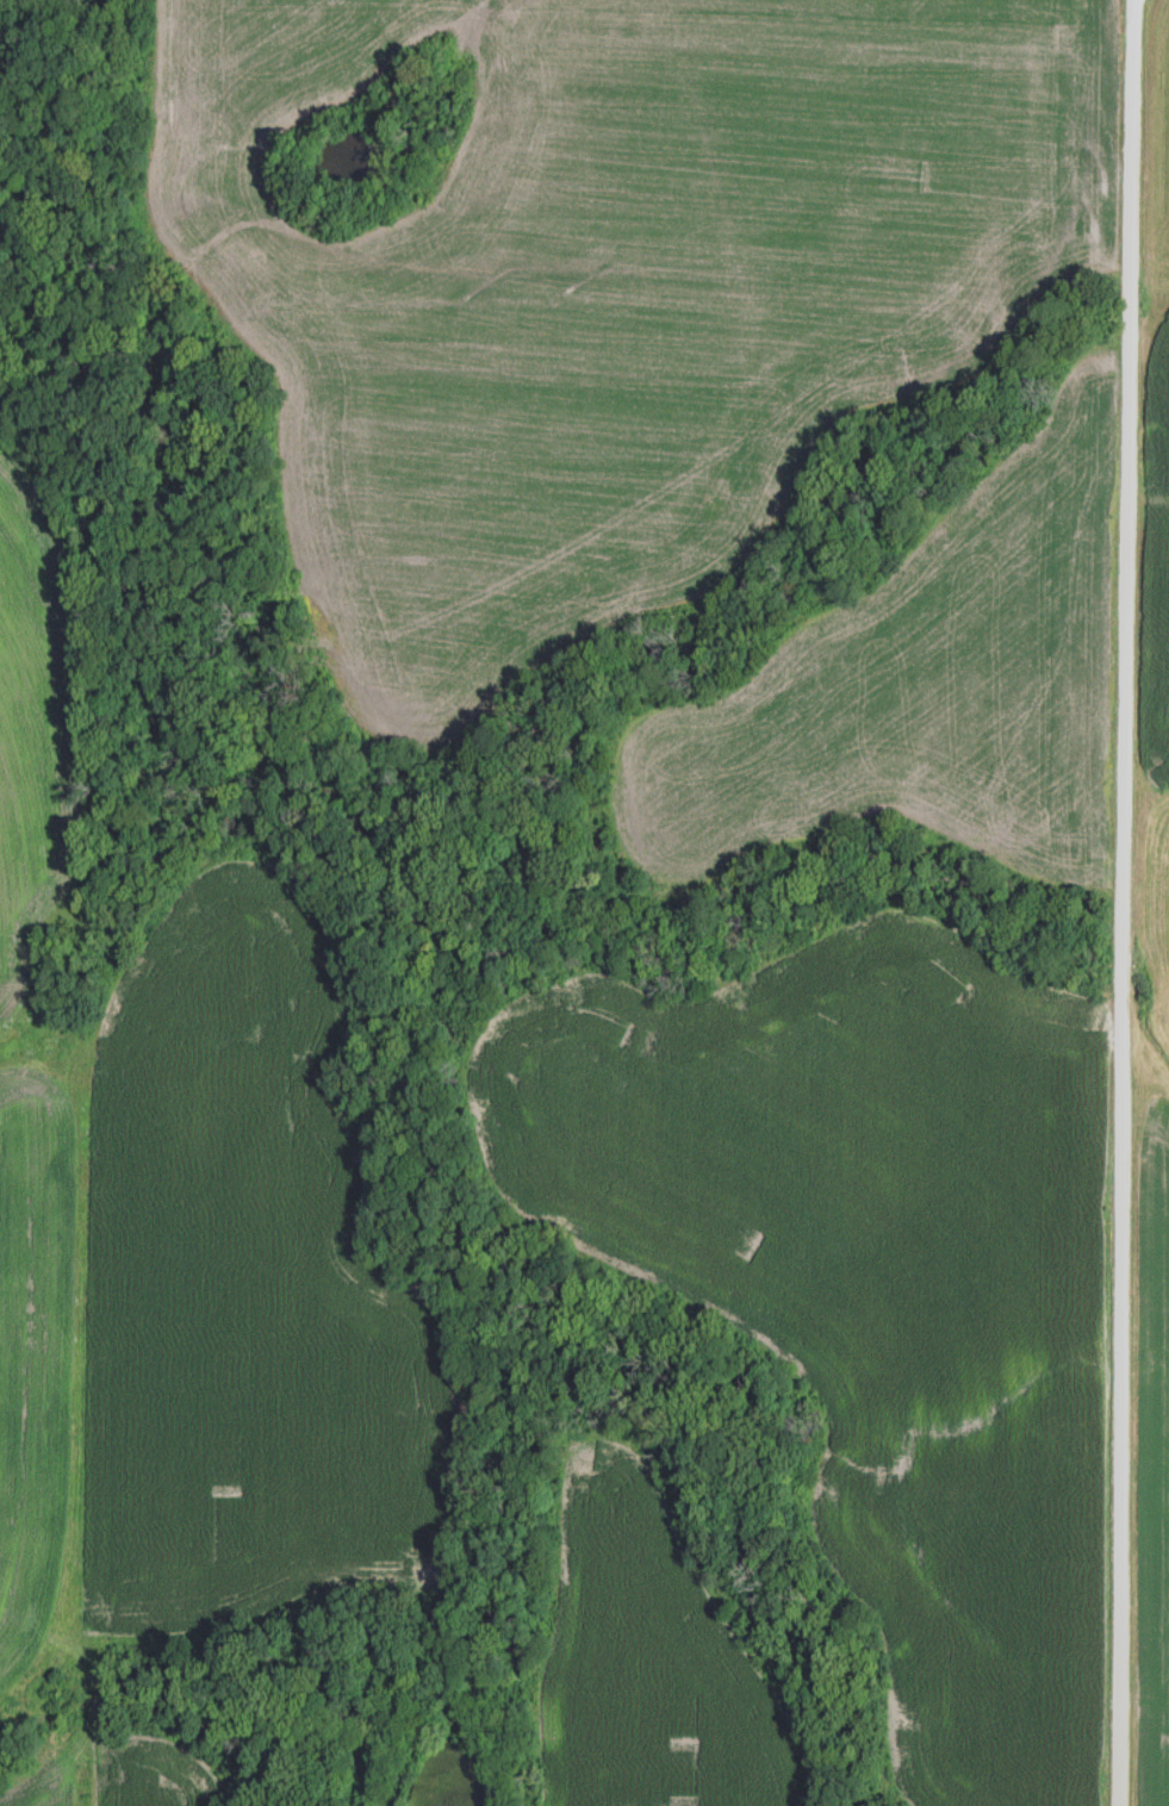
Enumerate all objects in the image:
road: (1123, 902)

